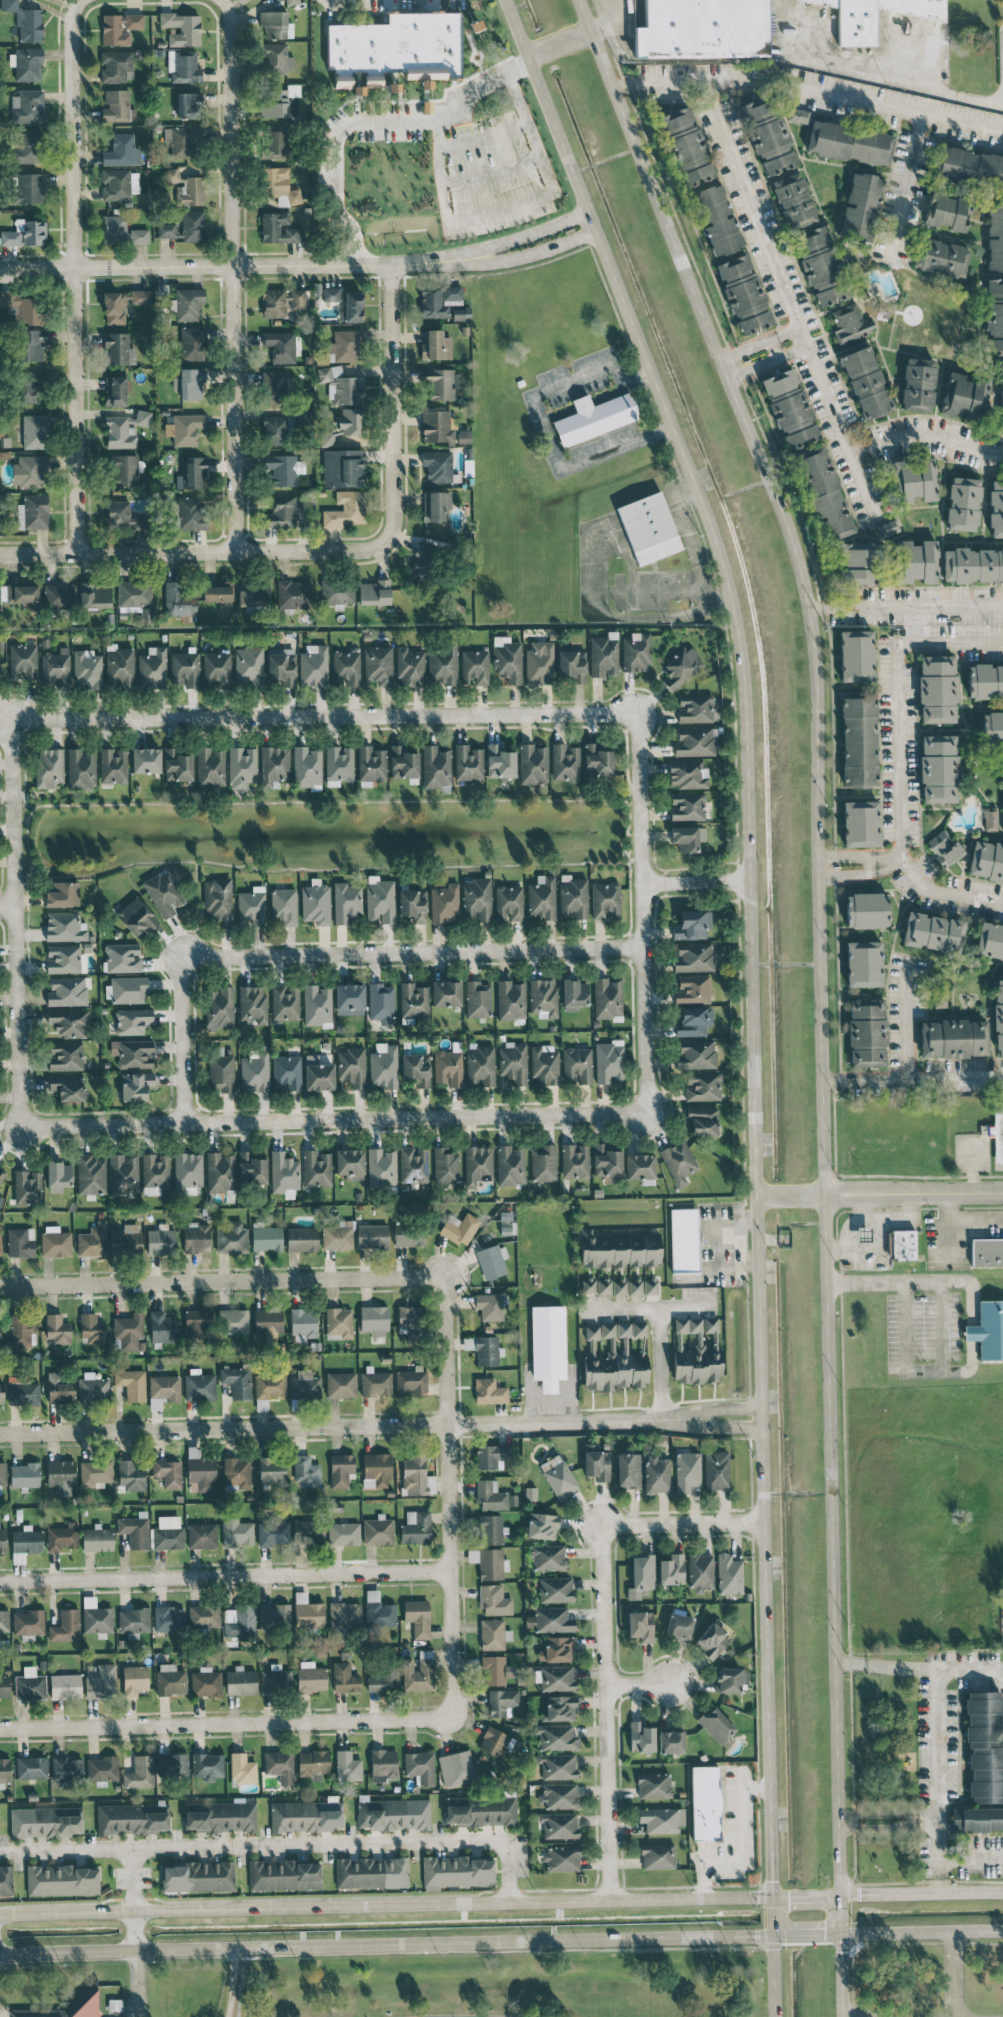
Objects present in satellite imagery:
road: (616, 8)
building: (25, 21)
road: (605, 23)
building: (474, 24)
building: (275, 25)
building: (751, 25)
building: (119, 28)
building: (182, 28)
road: (559, 42)
building: (398, 44)
building: (276, 59)
building: (28, 64)
road: (520, 64)
building: (114, 66)
building: (183, 66)
road: (891, 79)
road: (477, 85)
road: (810, 86)
building: (274, 103)
building: (189, 105)
building: (27, 106)
building: (117, 106)
building: (798, 115)
road: (528, 129)
building: (768, 138)
building: (180, 140)
building: (276, 142)
building: (849, 143)
building: (27, 147)
building: (686, 147)
road: (332, 148)
building: (122, 150)
parking lot: (487, 157)
building: (969, 166)
building: (171, 175)
building: (120, 184)
road: (904, 185)
building: (279, 186)
building: (28, 189)
building: (190, 191)
building: (793, 201)
building: (861, 207)
building: (947, 212)
building: (716, 219)
building: (185, 227)
building: (278, 229)
building: (121, 231)
building: (25, 233)
building: (995, 236)
building: (941, 258)
road: (299, 266)
building: (819, 267)
road: (233, 271)
road: (73, 273)
building: (452, 293)
building: (331, 294)
building: (744, 294)
building: (140, 297)
building: (298, 299)
road: (789, 300)
building: (274, 303)
building: (432, 303)
building: (188, 304)
building: (23, 307)
building: (114, 307)
building: (351, 307)
building: (994, 315)
building: (850, 323)
road: (758, 340)
building: (192, 343)
building: (33, 344)
building: (344, 345)
building: (435, 345)
building: (281, 346)
road: (773, 347)
road: (766, 361)
building: (865, 382)
building: (189, 383)
building: (442, 384)
building: (30, 385)
building: (342, 385)
building: (918, 385)
building: (277, 387)
building: (115, 391)
building: (964, 396)
building: (1001, 396)
building: (789, 408)
building: (594, 417)
building: (282, 426)
building: (437, 427)
road: (544, 427)
building: (185, 428)
building: (124, 429)
building: (35, 431)
road: (927, 434)
building: (463, 436)
building: (438, 466)
building: (343, 467)
building: (124, 469)
building: (282, 469)
building: (31, 471)
building: (192, 472)
building: (914, 480)
building: (824, 493)
building: (963, 504)
building: (435, 505)
building: (345, 509)
building: (996, 509)
building: (33, 511)
building: (282, 512)
building: (191, 513)
building: (123, 516)
building: (648, 528)
building: (887, 528)
road: (690, 540)
road: (370, 550)
road: (38, 551)
building: (916, 561)
building: (423, 562)
building: (858, 564)
road: (590, 565)
building: (973, 565)
building: (337, 591)
building: (218, 592)
building: (374, 592)
building: (19, 593)
building: (253, 594)
building: (293, 594)
building: (59, 595)
building: (95, 595)
building: (136, 598)
building: (178, 601)
road: (914, 605)
road: (817, 608)
road: (914, 624)
building: (635, 652)
building: (603, 655)
building: (856, 655)
building: (507, 659)
building: (23, 661)
building: (442, 664)
building: (539, 664)
building: (313, 665)
building: (378, 665)
building: (409, 666)
building: (571, 666)
building: (248, 667)
building: (474, 667)
building: (682, 667)
building: (56, 668)
building: (152, 668)
building: (281, 668)
building: (345, 668)
building: (87, 669)
building: (184, 669)
building: (216, 669)
building: (0, 671)
building: (985, 681)
building: (937, 688)
road: (898, 700)
building: (695, 708)
road: (322, 715)
building: (993, 728)
building: (695, 741)
building: (859, 741)
building: (938, 744)
building: (145, 760)
building: (597, 761)
building: (499, 762)
building: (565, 762)
building: (403, 763)
building: (468, 763)
building: (533, 764)
building: (113, 765)
building: (177, 765)
building: (338, 765)
building: (370, 765)
building: (274, 766)
building: (49, 767)
building: (242, 767)
building: (307, 767)
building: (435, 767)
building: (81, 768)
building: (210, 768)
building: (687, 774)
building: (939, 778)
road: (324, 802)
building: (687, 806)
building: (990, 819)
building: (860, 823)
building: (687, 837)
building: (944, 847)
building: (986, 860)
road: (323, 867)
road: (911, 875)
road: (695, 883)
building: (163, 893)
building: (62, 894)
building: (541, 897)
building: (573, 897)
building: (379, 899)
building: (476, 899)
building: (605, 900)
building: (346, 902)
building: (444, 903)
building: (508, 903)
building: (315, 904)
building: (412, 904)
road: (5, 905)
building: (251, 907)
building: (283, 907)
building: (866, 910)
road: (640, 913)
building: (136, 917)
road: (10, 921)
building: (692, 924)
building: (65, 927)
building: (933, 932)
building: (990, 940)
road: (330, 955)
building: (122, 957)
building: (693, 957)
building: (65, 959)
building: (863, 963)
road: (820, 983)
road: (752, 987)
building: (128, 989)
building: (693, 989)
building: (67, 991)
building: (446, 993)
building: (574, 994)
building: (940, 997)
building: (543, 998)
building: (349, 999)
building: (478, 999)
building: (607, 999)
building: (413, 1000)
building: (510, 1000)
building: (285, 1002)
building: (381, 1003)
building: (317, 1004)
building: (252, 1005)
building: (220, 1008)
road: (906, 1017)
building: (998, 1018)
building: (132, 1020)
building: (693, 1021)
building: (70, 1022)
building: (866, 1032)
building: (953, 1038)
building: (133, 1053)
building: (695, 1054)
building: (65, 1056)
building: (608, 1061)
building: (513, 1062)
building: (545, 1065)
building: (577, 1065)
building: (352, 1066)
building: (383, 1066)
building: (480, 1066)
building: (448, 1068)
building: (416, 1069)
building: (255, 1071)
building: (221, 1072)
building: (287, 1073)
building: (317, 1074)
road: (912, 1078)
building: (136, 1086)
building: (702, 1086)
building: (67, 1087)
road: (330, 1117)
building: (702, 1120)
building: (997, 1131)
building: (574, 1161)
building: (678, 1161)
building: (606, 1162)
building: (349, 1163)
building: (543, 1163)
building: (413, 1164)
building: (445, 1165)
building: (477, 1165)
building: (510, 1165)
building: (640, 1167)
building: (316, 1168)
building: (381, 1168)
building: (251, 1169)
building: (155, 1170)
building: (187, 1171)
building: (220, 1172)
building: (283, 1172)
building: (123, 1174)
building: (90, 1175)
building: (1, 1176)
building: (58, 1176)
building: (27, 1187)
road: (879, 1194)
road: (964, 1217)
road: (898, 1219)
building: (459, 1228)
building: (863, 1234)
building: (372, 1235)
building: (408, 1235)
building: (196, 1237)
building: (231, 1237)
building: (266, 1238)
road: (864, 1238)
building: (302, 1239)
building: (93, 1240)
building: (161, 1240)
building: (684, 1240)
building: (55, 1241)
building: (20, 1242)
building: (125, 1242)
building: (0, 1245)
building: (901, 1245)
building: (620, 1249)
building: (987, 1252)
building: (492, 1260)
road: (222, 1277)
building: (596, 1286)
building: (635, 1286)
building: (650, 1286)
building: (619, 1287)
road: (968, 1288)
building: (489, 1306)
road: (649, 1307)
building: (374, 1320)
building: (233, 1321)
building: (197, 1322)
building: (410, 1322)
building: (268, 1323)
building: (339, 1323)
building: (303, 1324)
road: (903, 1326)
road: (938, 1326)
building: (162, 1327)
building: (92, 1328)
building: (631, 1329)
building: (21, 1330)
building: (58, 1330)
building: (988, 1330)
building: (129, 1332)
building: (547, 1346)
building: (487, 1350)
building: (696, 1350)
building: (609, 1361)
road: (658, 1362)
building: (236, 1381)
building: (411, 1381)
building: (131, 1384)
building: (341, 1384)
building: (375, 1384)
building: (199, 1385)
building: (269, 1385)
building: (305, 1385)
building: (93, 1388)
building: (163, 1390)
building: (61, 1391)
building: (489, 1391)
building: (23, 1393)
building: (1, 1394)
road: (551, 1397)
road: (380, 1422)
building: (492, 1456)
building: (376, 1469)
building: (271, 1470)
building: (341, 1470)
building: (628, 1470)
building: (95, 1471)
building: (305, 1471)
building: (686, 1471)
building: (716, 1471)
building: (167, 1472)
building: (237, 1472)
building: (2, 1474)
building: (656, 1474)
building: (24, 1475)
building: (130, 1475)
building: (416, 1475)
building: (60, 1476)
building: (558, 1476)
road: (448, 1496)
building: (490, 1496)
building: (542, 1525)
building: (415, 1527)
building: (490, 1529)
building: (135, 1530)
building: (308, 1531)
building: (377, 1531)
building: (236, 1532)
building: (272, 1532)
building: (168, 1533)
building: (343, 1534)
building: (202, 1535)
building: (62, 1537)
building: (97, 1539)
building: (26, 1541)
building: (548, 1557)
building: (488, 1563)
building: (671, 1570)
building: (700, 1572)
building: (729, 1574)
road: (224, 1576)
building: (641, 1576)
building: (556, 1589)
building: (494, 1600)
building: (378, 1610)
building: (307, 1612)
building: (344, 1614)
building: (204, 1615)
building: (274, 1617)
building: (417, 1617)
building: (169, 1618)
building: (550, 1620)
building: (4, 1621)
building: (134, 1621)
building: (240, 1622)
building: (28, 1623)
building: (641, 1625)
building: (66, 1626)
building: (679, 1626)
road: (602, 1630)
building: (493, 1634)
building: (712, 1640)
building: (557, 1648)
road: (919, 1669)
building: (493, 1670)
building: (418, 1672)
building: (311, 1677)
building: (557, 1677)
building: (344, 1678)
building: (382, 1678)
building: (170, 1679)
building: (730, 1679)
building: (133, 1680)
building: (275, 1680)
building: (101, 1682)
building: (206, 1682)
building: (241, 1682)
road: (636, 1684)
building: (30, 1685)
building: (4, 1686)
building: (65, 1686)
building: (502, 1702)
building: (560, 1708)
road: (217, 1717)
building: (717, 1726)
building: (556, 1737)
building: (641, 1737)
building: (671, 1742)
building: (496, 1743)
building: (985, 1746)
building: (312, 1762)
building: (172, 1764)
building: (279, 1765)
building: (383, 1765)
building: (207, 1766)
building: (347, 1766)
building: (420, 1766)
building: (558, 1766)
building: (31, 1767)
building: (102, 1768)
building: (242, 1768)
building: (456, 1768)
building: (66, 1769)
building: (5, 1770)
building: (139, 1772)
road: (937, 1781)
building: (654, 1785)
building: (558, 1796)
building: (705, 1803)
building: (480, 1810)
building: (394, 1814)
building: (219, 1816)
building: (306, 1816)
building: (132, 1818)
building: (662, 1819)
road: (887, 1819)
building: (977, 1819)
building: (46, 1821)
building: (559, 1825)
road: (282, 1843)
building: (657, 1856)
road: (971, 1856)
building: (561, 1858)
building: (371, 1872)
building: (457, 1872)
building: (283, 1875)
building: (197, 1877)
building: (6, 1880)
building: (61, 1880)
traffic signals: (771, 1880)
road: (921, 1891)
traffic signals: (860, 1894)
road: (806, 1895)
traffic signals: (789, 1896)
road: (132, 1900)
road: (385, 1904)
road: (922, 1930)
road: (807, 1934)
traffic signals: (824, 1934)
traffic signals: (756, 1936)
road: (385, 1944)
traffic signals: (843, 1952)
road: (121, 1959)
road: (954, 1975)
road: (229, 1982)
road: (238, 1982)
road: (134, 1983)
park: (448, 1988)
road: (843, 2013)
road: (857, 2013)

